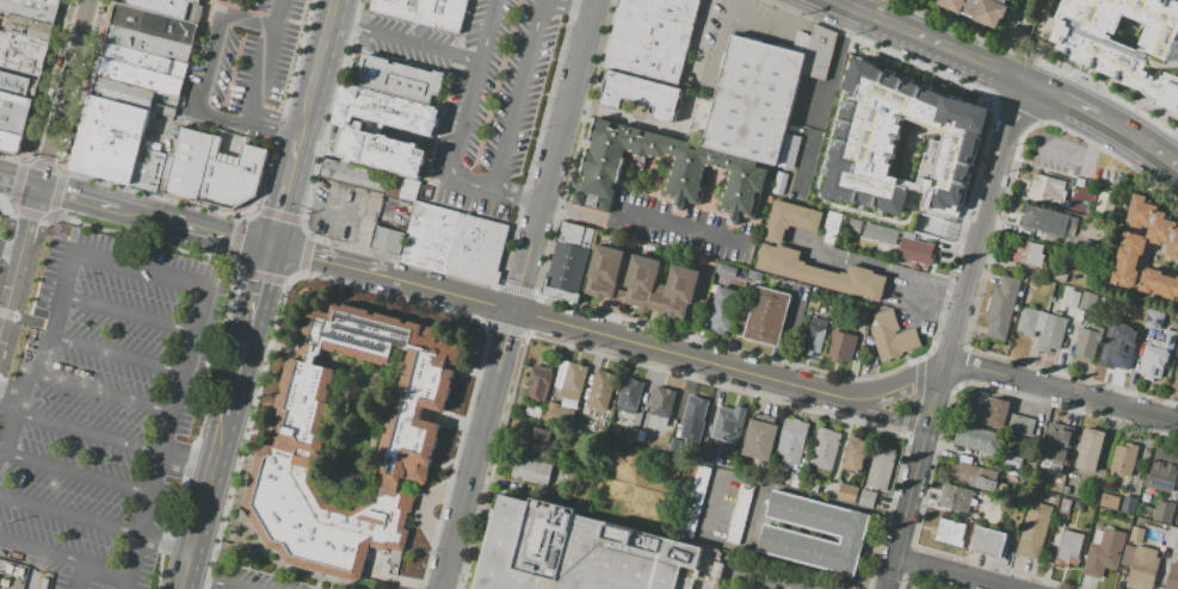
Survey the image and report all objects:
road: (1177, 0)
building: (51, 1)
road: (33, 6)
building: (162, 6)
road: (575, 6)
building: (30, 10)
building: (665, 10)
building: (975, 10)
building: (424, 11)
road: (82, 19)
road: (329, 21)
building: (25, 27)
building: (650, 31)
street lamp: (561, 32)
building: (152, 33)
road: (152, 36)
street lamp: (350, 37)
road: (405, 38)
road: (699, 41)
road: (927, 42)
road: (1040, 42)
road: (203, 49)
building: (819, 54)
building: (21, 56)
building: (136, 58)
building: (1118, 58)
street lamp: (344, 61)
building: (643, 62)
road: (206, 66)
road: (835, 67)
parking lot: (245, 69)
building: (141, 77)
building: (397, 77)
road: (255, 83)
street lamp: (338, 83)
building: (18, 85)
road: (313, 86)
parking lot: (477, 92)
building: (122, 93)
road: (61, 94)
building: (640, 94)
building: (751, 99)
building: (687, 101)
building: (14, 112)
road: (1103, 119)
building: (368, 124)
building: (353, 132)
building: (110, 139)
building: (10, 142)
building: (901, 147)
building: (789, 151)
road: (1092, 151)
parking lot: (1059, 153)
road: (1071, 153)
building: (187, 165)
building: (152, 170)
building: (672, 172)
building: (352, 176)
building: (230, 178)
road: (18, 184)
building: (779, 184)
building: (795, 184)
road: (477, 186)
building: (804, 186)
road: (286, 187)
building: (400, 188)
building: (1047, 191)
building: (791, 194)
road: (517, 197)
building: (798, 198)
road: (90, 201)
building: (1105, 203)
road: (580, 215)
building: (790, 221)
building: (1044, 221)
road: (983, 222)
building: (855, 223)
building: (1154, 224)
road: (359, 227)
building: (829, 227)
road: (683, 229)
road: (208, 230)
building: (413, 234)
building: (881, 234)
building: (428, 237)
building: (387, 241)
building: (444, 241)
building: (460, 244)
traffic signals: (272, 248)
building: (476, 249)
building: (915, 252)
building: (493, 254)
building: (1030, 254)
building: (1154, 256)
road: (988, 258)
road: (20, 259)
building: (1128, 260)
building: (568, 261)
road: (138, 271)
building: (726, 271)
building: (604, 273)
building: (819, 273)
road: (929, 281)
building: (1159, 284)
building: (660, 286)
road: (516, 290)
building: (1005, 293)
road: (518, 294)
parking lot: (913, 296)
building: (1072, 299)
building: (1177, 300)
road: (255, 303)
building: (815, 303)
road: (488, 304)
building: (722, 310)
road: (127, 312)
road: (529, 314)
building: (863, 315)
building: (765, 316)
building: (1122, 317)
road: (30, 320)
building: (1154, 320)
road: (545, 321)
building: (997, 322)
road: (502, 327)
building: (1041, 328)
building: (815, 336)
building: (892, 336)
road: (785, 337)
building: (1086, 345)
building: (841, 346)
road: (116, 353)
building: (1116, 354)
road: (41, 358)
building: (1153, 359)
road: (958, 367)
road: (179, 368)
road: (664, 370)
road: (833, 374)
building: (573, 382)
building: (537, 383)
building: (602, 391)
road: (1062, 391)
road: (101, 392)
road: (888, 392)
building: (629, 395)
road: (917, 397)
parking lot: (101, 405)
road: (7, 410)
building: (660, 410)
building: (695, 410)
building: (988, 410)
building: (559, 414)
road: (874, 414)
building: (1020, 424)
building: (727, 426)
road: (86, 432)
building: (631, 435)
building: (640, 435)
road: (939, 436)
building: (352, 439)
road: (921, 439)
building: (976, 439)
building: (759, 440)
building: (792, 440)
building: (538, 444)
building: (674, 446)
building: (1055, 447)
building: (825, 448)
building: (1090, 449)
building: (855, 454)
building: (707, 457)
road: (186, 459)
building: (1124, 459)
building: (1012, 461)
building: (1026, 466)
building: (881, 467)
building: (1162, 469)
building: (531, 471)
building: (801, 471)
road: (74, 473)
road: (212, 473)
road: (917, 475)
building: (975, 477)
building: (796, 480)
building: (1055, 484)
building: (810, 486)
building: (1066, 490)
building: (846, 492)
road: (713, 497)
building: (955, 497)
building: (866, 498)
building: (693, 501)
building: (1109, 502)
building: (1128, 503)
building: (1162, 510)
road: (141, 513)
road: (68, 514)
building: (800, 528)
building: (1034, 531)
building: (949, 532)
building: (1136, 535)
building: (1172, 539)
building: (988, 541)
road: (164, 546)
building: (1069, 548)
building: (1104, 551)
building: (584, 552)
road: (62, 559)
road: (907, 560)
building: (1142, 568)
road: (955, 572)
road: (79, 577)
building: (1172, 577)
road: (217, 581)
road: (920, 581)
road: (123, 582)

